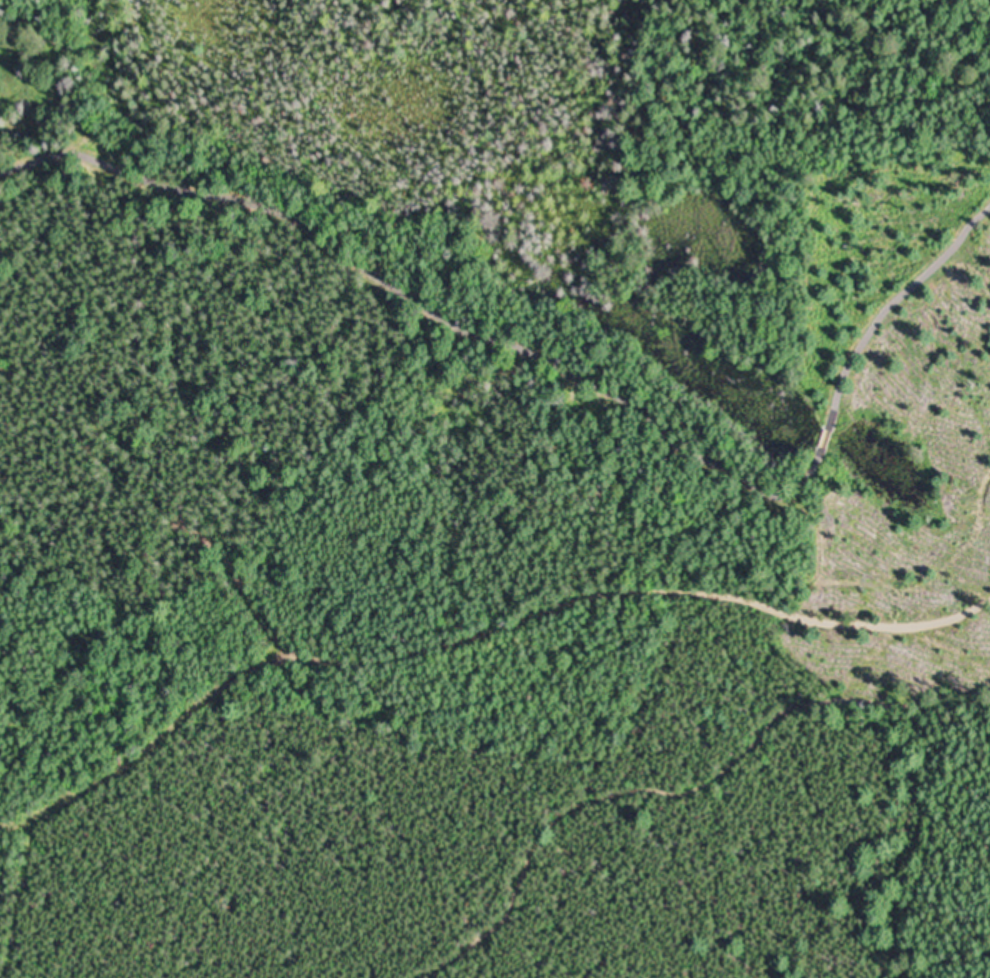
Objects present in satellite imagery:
road: (865, 333)

